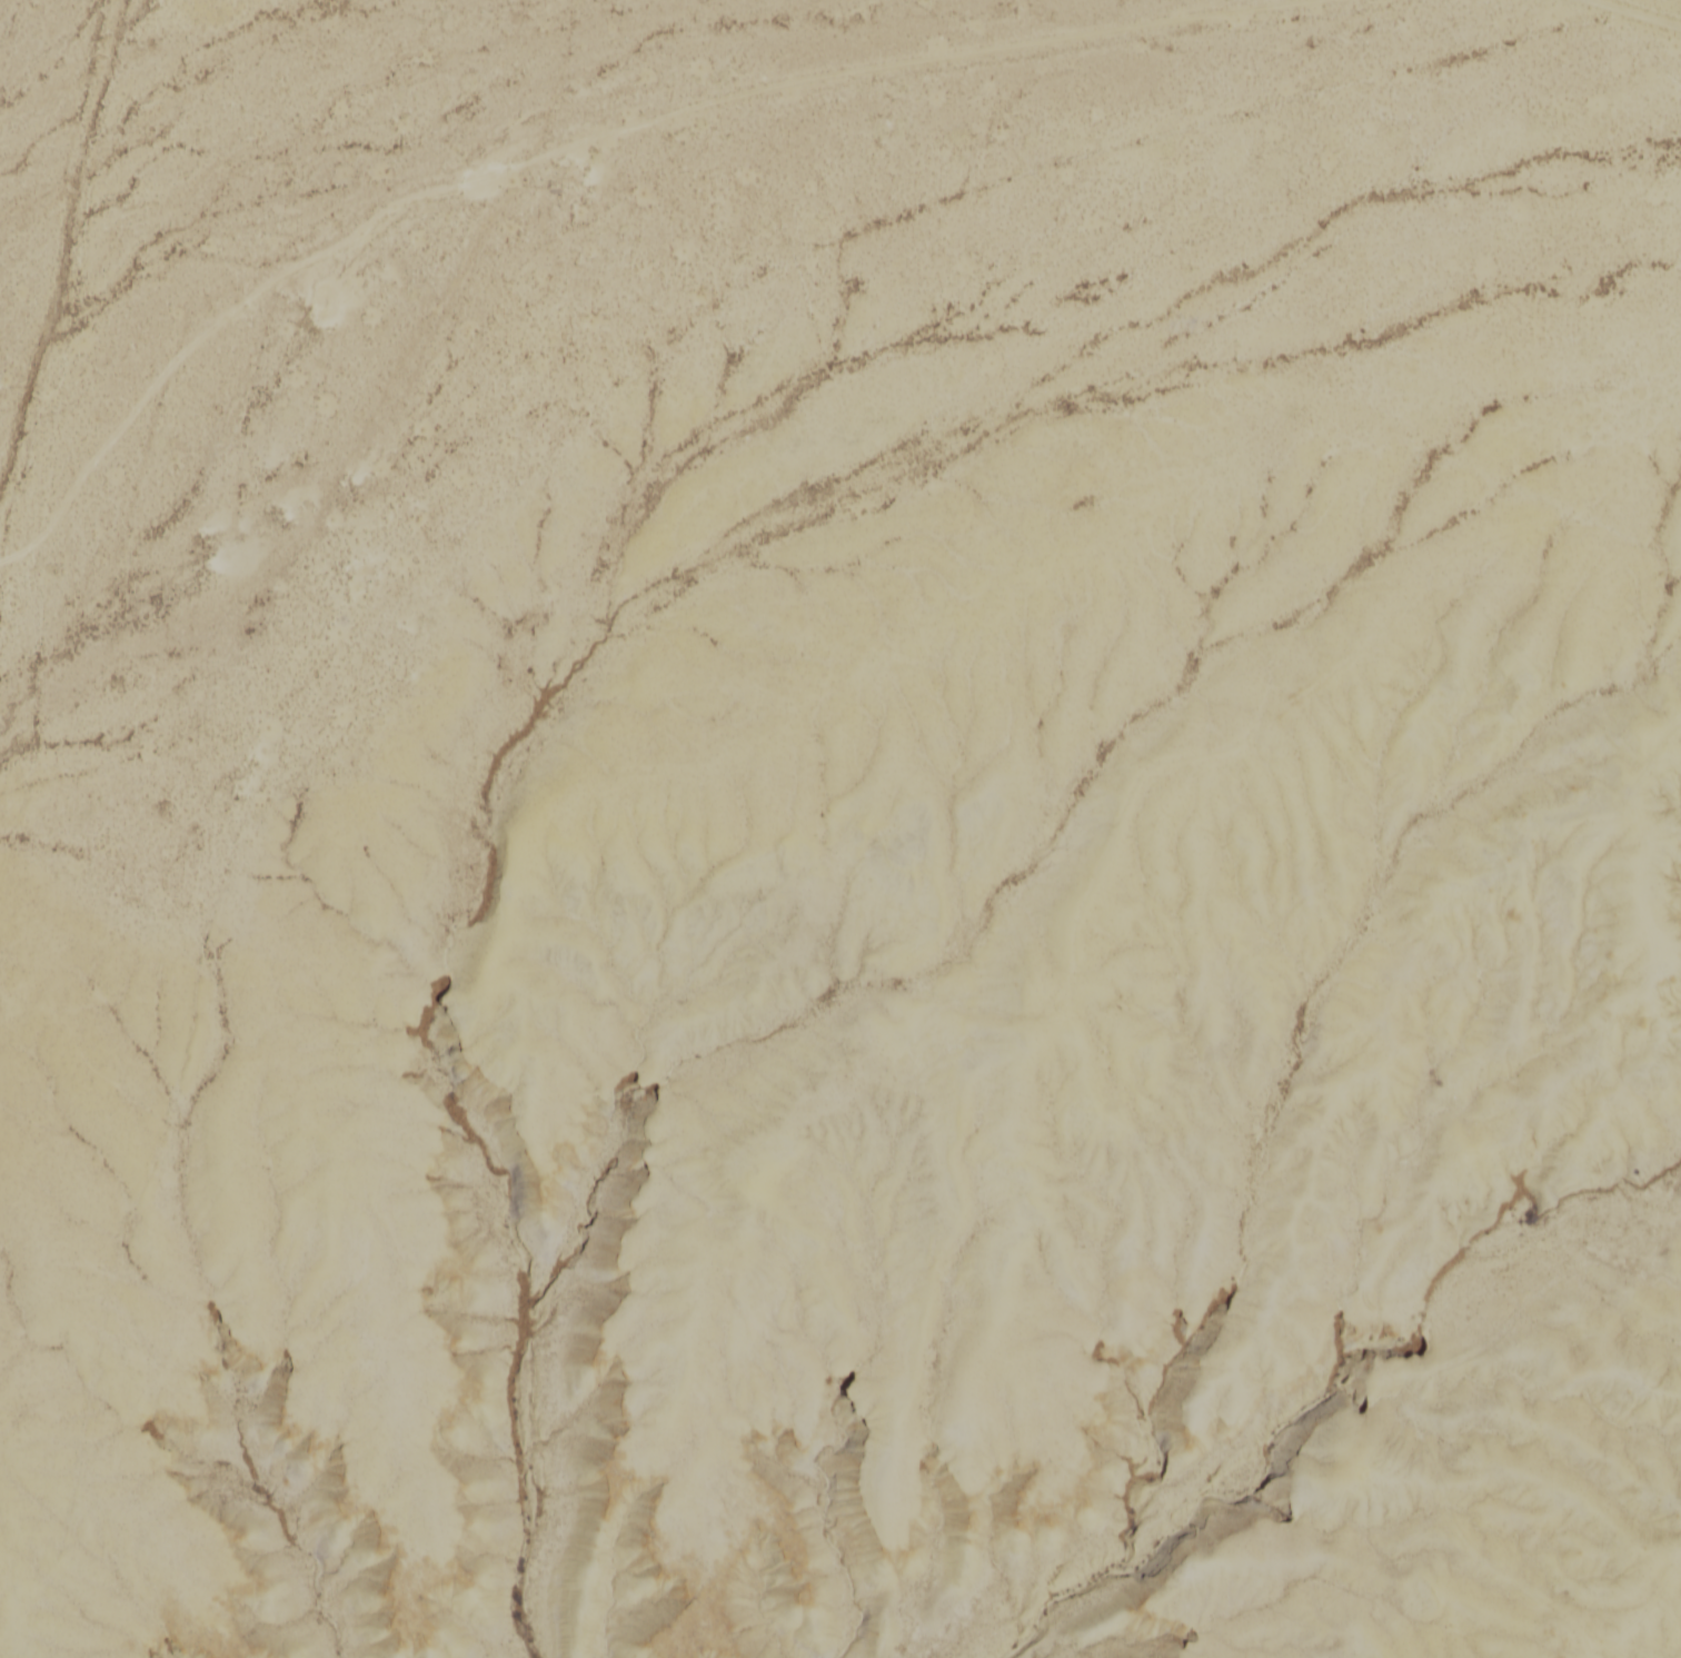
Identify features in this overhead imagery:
road: (1660, 6)

